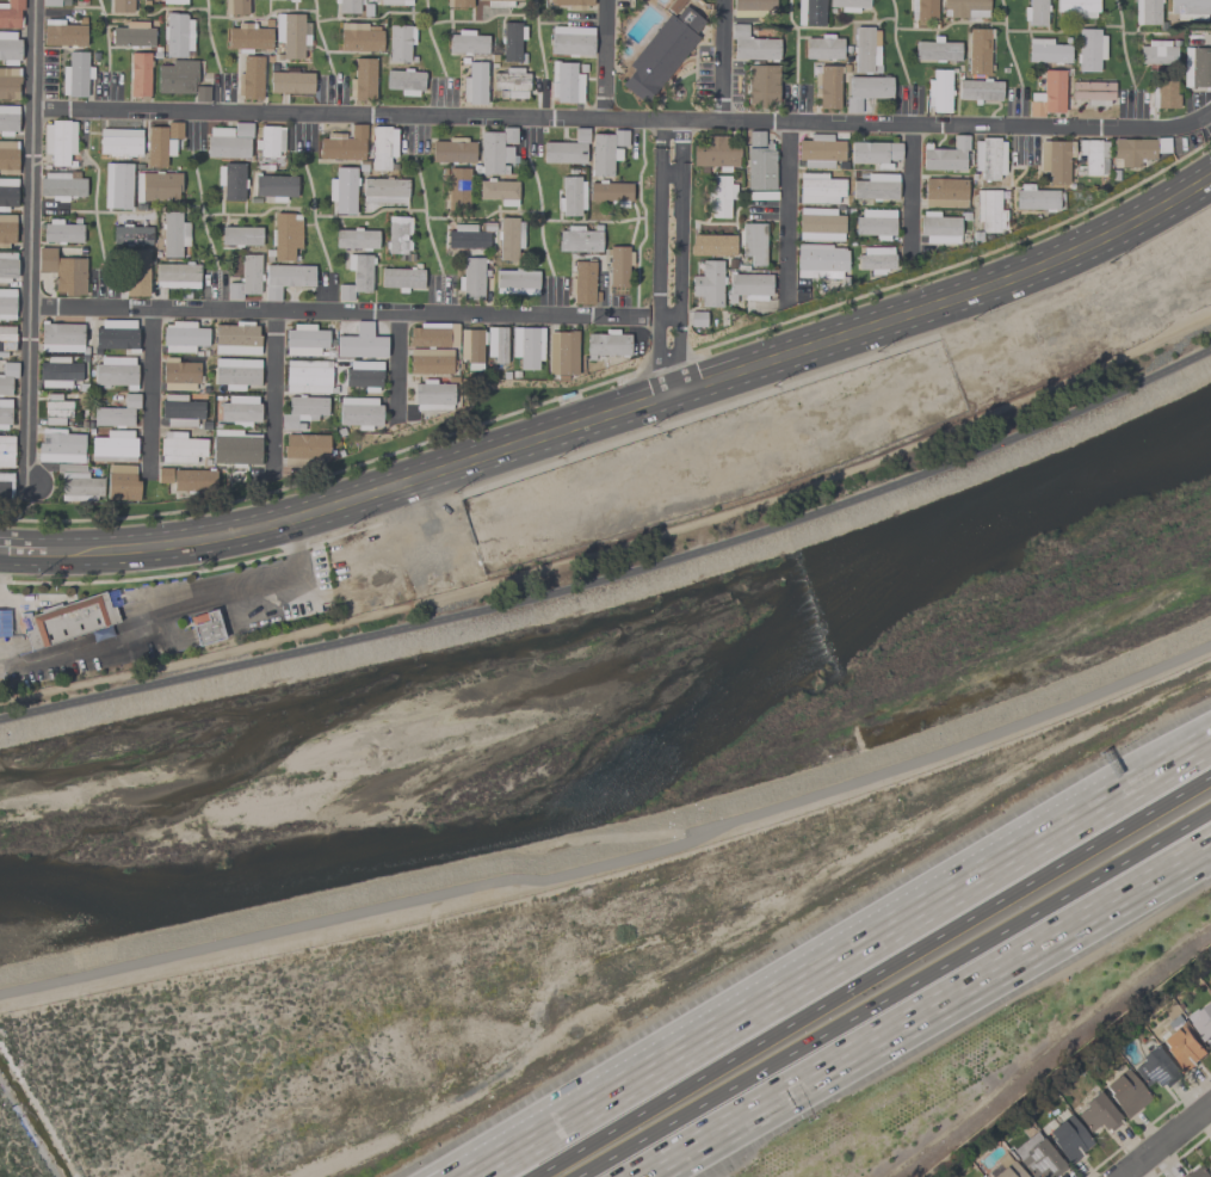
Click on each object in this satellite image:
building: (292, 0)
building: (173, 1)
building: (394, 1)
building: (51, 2)
building: (458, 2)
building: (499, 2)
building: (571, 4)
building: (674, 5)
building: (848, 5)
building: (122, 6)
building: (347, 6)
building: (1076, 6)
building: (235, 7)
building: (752, 7)
building: (964, 8)
building: (1190, 8)
building: (366, 10)
building: (925, 10)
building: (810, 12)
building: (1034, 12)
building: (1145, 12)
building: (10, 13)
building: (62, 33)
building: (131, 35)
building: (177, 35)
building: (291, 35)
building: (247, 37)
building: (359, 37)
building: (511, 41)
building: (570, 41)
building: (400, 42)
building: (467, 42)
building: (750, 44)
building: (8, 48)
building: (822, 48)
building: (865, 49)
building: (1089, 49)
building: (935, 50)
building: (977, 51)
building: (1048, 51)
building: (1156, 53)
building: (661, 54)
road: (604, 60)
road: (719, 61)
building: (1197, 67)
building: (75, 74)
building: (138, 75)
building: (175, 76)
building: (249, 78)
building: (362, 80)
building: (404, 81)
building: (8, 82)
building: (290, 82)
building: (511, 82)
building: (564, 82)
building: (474, 84)
building: (761, 84)
building: (826, 87)
building: (865, 90)
building: (980, 90)
building: (938, 91)
building: (1092, 92)
building: (202, 93)
building: (1048, 94)
building: (1163, 94)
building: (7, 119)
road: (624, 119)
building: (242, 129)
building: (174, 130)
road: (657, 134)
road: (680, 140)
building: (119, 141)
building: (268, 141)
building: (58, 142)
building: (225, 143)
building: (344, 144)
building: (1162, 144)
building: (157, 147)
building: (381, 147)
building: (566, 149)
building: (452, 150)
building: (496, 150)
building: (605, 152)
building: (818, 152)
building: (1131, 152)
building: (875, 153)
building: (715, 154)
building: (945, 155)
building: (1093, 156)
building: (8, 158)
building: (989, 158)
building: (1054, 160)
building: (759, 162)
building: (231, 180)
building: (117, 185)
building: (60, 186)
building: (156, 186)
building: (274, 186)
building: (875, 186)
building: (457, 189)
building: (818, 189)
building: (342, 190)
building: (384, 190)
building: (498, 191)
building: (610, 192)
building: (7, 193)
building: (944, 193)
road: (912, 195)
building: (570, 196)
building: (719, 196)
building: (1034, 198)
building: (989, 211)
road: (787, 214)
building: (818, 223)
building: (875, 223)
building: (938, 228)
building: (6, 229)
building: (62, 232)
building: (130, 234)
building: (173, 234)
building: (397, 234)
building: (241, 235)
building: (285, 236)
building: (465, 238)
building: (508, 238)
building: (356, 239)
building: (577, 240)
road: (30, 242)
building: (753, 242)
building: (712, 245)
building: (875, 259)
building: (818, 260)
building: (618, 265)
building: (7, 266)
building: (62, 271)
building: (136, 272)
building: (249, 275)
building: (177, 276)
building: (356, 276)
building: (285, 278)
building: (401, 278)
building: (471, 278)
road: (659, 278)
road: (678, 281)
building: (515, 282)
building: (582, 283)
building: (708, 283)
building: (748, 285)
building: (234, 291)
building: (7, 303)
road: (338, 313)
road: (661, 319)
building: (697, 319)
building: (116, 334)
building: (61, 337)
building: (183, 337)
building: (236, 339)
building: (6, 340)
building: (304, 340)
building: (360, 343)
building: (495, 344)
building: (606, 344)
building: (526, 346)
building: (431, 347)
building: (471, 347)
building: (561, 352)
road: (396, 368)
building: (57, 372)
building: (115, 372)
building: (235, 372)
building: (179, 375)
building: (363, 375)
building: (307, 376)
building: (7, 377)
road: (148, 392)
road: (640, 392)
road: (273, 393)
building: (432, 396)
building: (55, 409)
building: (180, 409)
building: (116, 411)
building: (240, 411)
building: (302, 411)
building: (359, 412)
building: (4, 413)
road: (618, 424)
building: (60, 446)
building: (113, 446)
building: (180, 448)
building: (235, 448)
building: (304, 449)
building: (5, 451)
building: (163, 475)
building: (193, 479)
building: (121, 483)
building: (5, 485)
building: (79, 486)
road: (21, 542)
road: (617, 547)
road: (618, 577)
building: (68, 620)
building: (204, 627)
road: (138, 636)
river: (623, 703)
road: (1168, 766)
road: (617, 862)
road: (873, 980)
road: (796, 984)
road: (897, 994)
road: (934, 1015)
building: (1201, 1021)
building: (1180, 1044)
building: (1155, 1068)
building: (1125, 1092)
building: (1098, 1114)
building: (1068, 1139)
road: (1160, 1139)
building: (1037, 1157)
building: (1210, 1157)
building: (1209, 1165)
building: (1003, 1167)
building: (1197, 1172)

